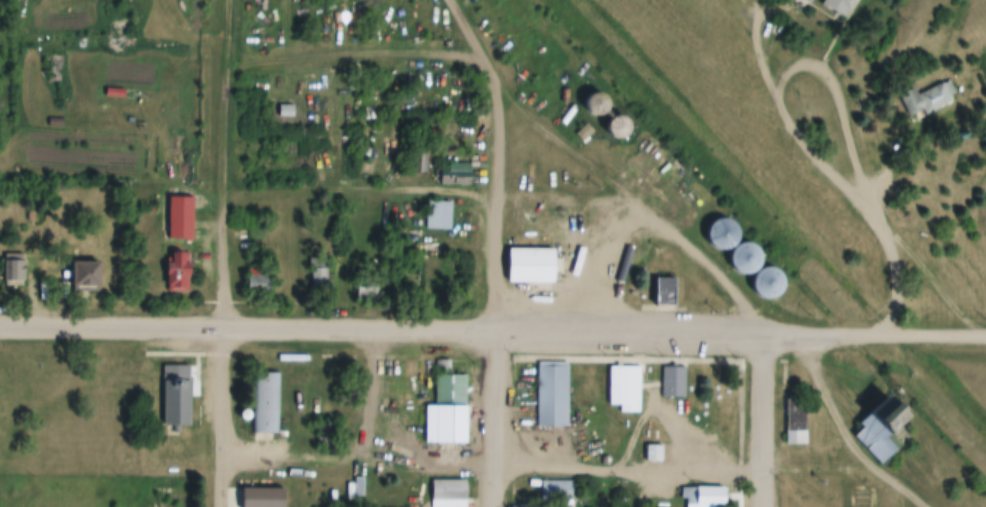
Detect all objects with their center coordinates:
building: (809, 1)
building: (364, 5)
building: (842, 6)
road: (471, 37)
building: (122, 43)
road: (351, 55)
building: (53, 70)
road: (218, 95)
building: (928, 98)
building: (596, 104)
silo: (596, 104)
building: (617, 127)
silo: (617, 127)
road: (560, 137)
road: (802, 138)
building: (456, 174)
road: (354, 188)
building: (183, 195)
road: (636, 200)
road: (490, 202)
railway: (787, 205)
building: (33, 214)
building: (440, 215)
building: (180, 222)
building: (721, 234)
silo: (721, 234)
building: (255, 235)
building: (743, 258)
silo: (743, 258)
road: (218, 259)
building: (533, 265)
building: (18, 267)
building: (180, 273)
building: (318, 273)
building: (84, 275)
building: (766, 283)
silo: (766, 283)
building: (259, 284)
building: (366, 286)
building: (665, 290)
road: (381, 328)
road: (874, 336)
building: (673, 382)
building: (624, 386)
building: (178, 395)
road: (374, 395)
building: (553, 395)
building: (266, 403)
building: (410, 408)
building: (451, 410)
building: (245, 415)
silo: (245, 415)
road: (219, 416)
road: (489, 418)
road: (761, 421)
building: (797, 423)
building: (885, 431)
road: (847, 434)
building: (653, 454)
building: (605, 461)
road: (490, 465)
building: (293, 475)
building: (360, 488)
building: (557, 491)
building: (449, 494)
building: (706, 496)

